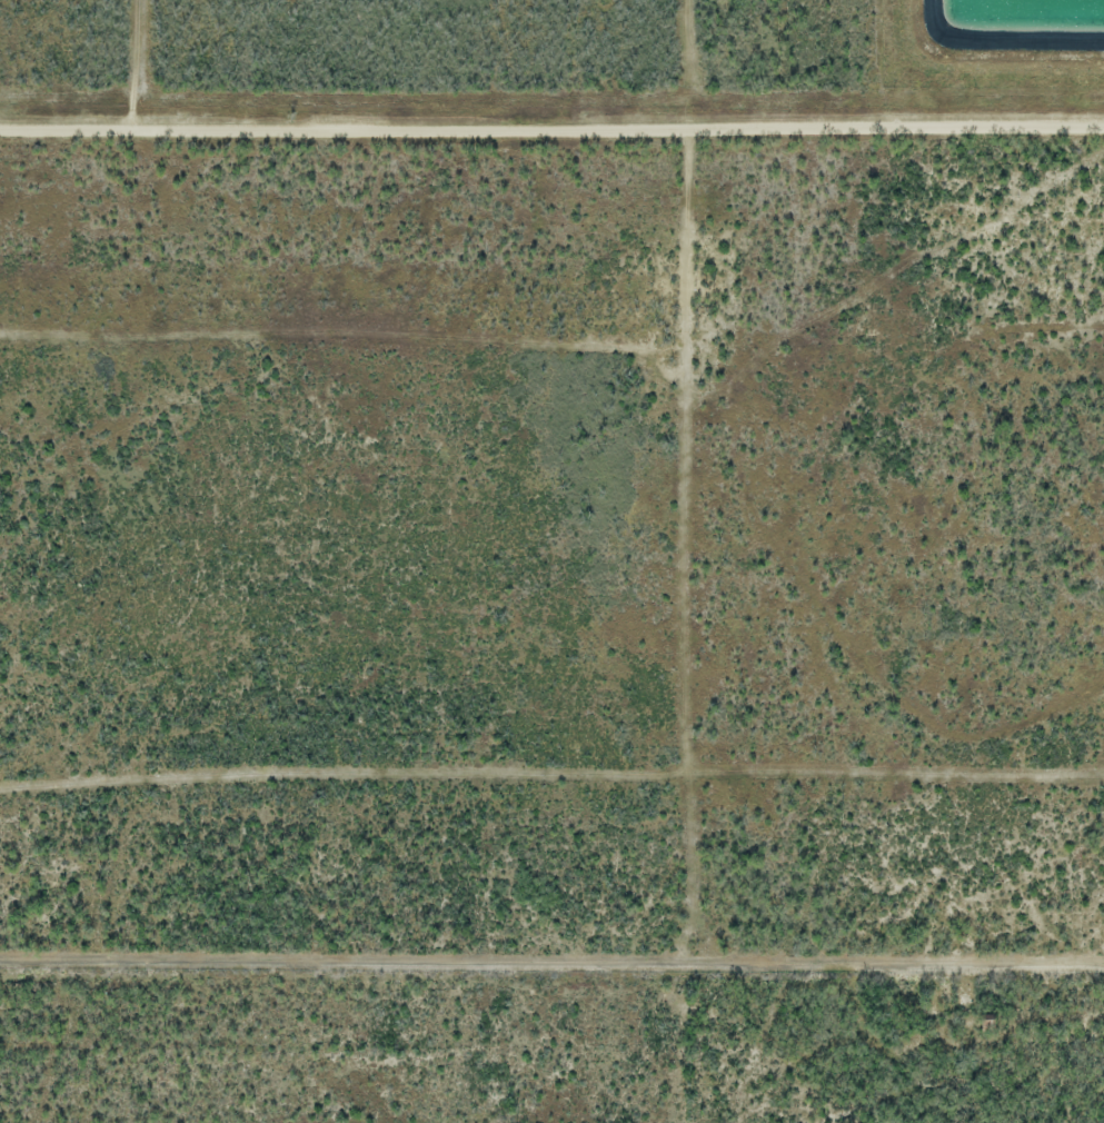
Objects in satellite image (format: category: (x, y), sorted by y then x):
road: (345, 133)
road: (897, 133)

